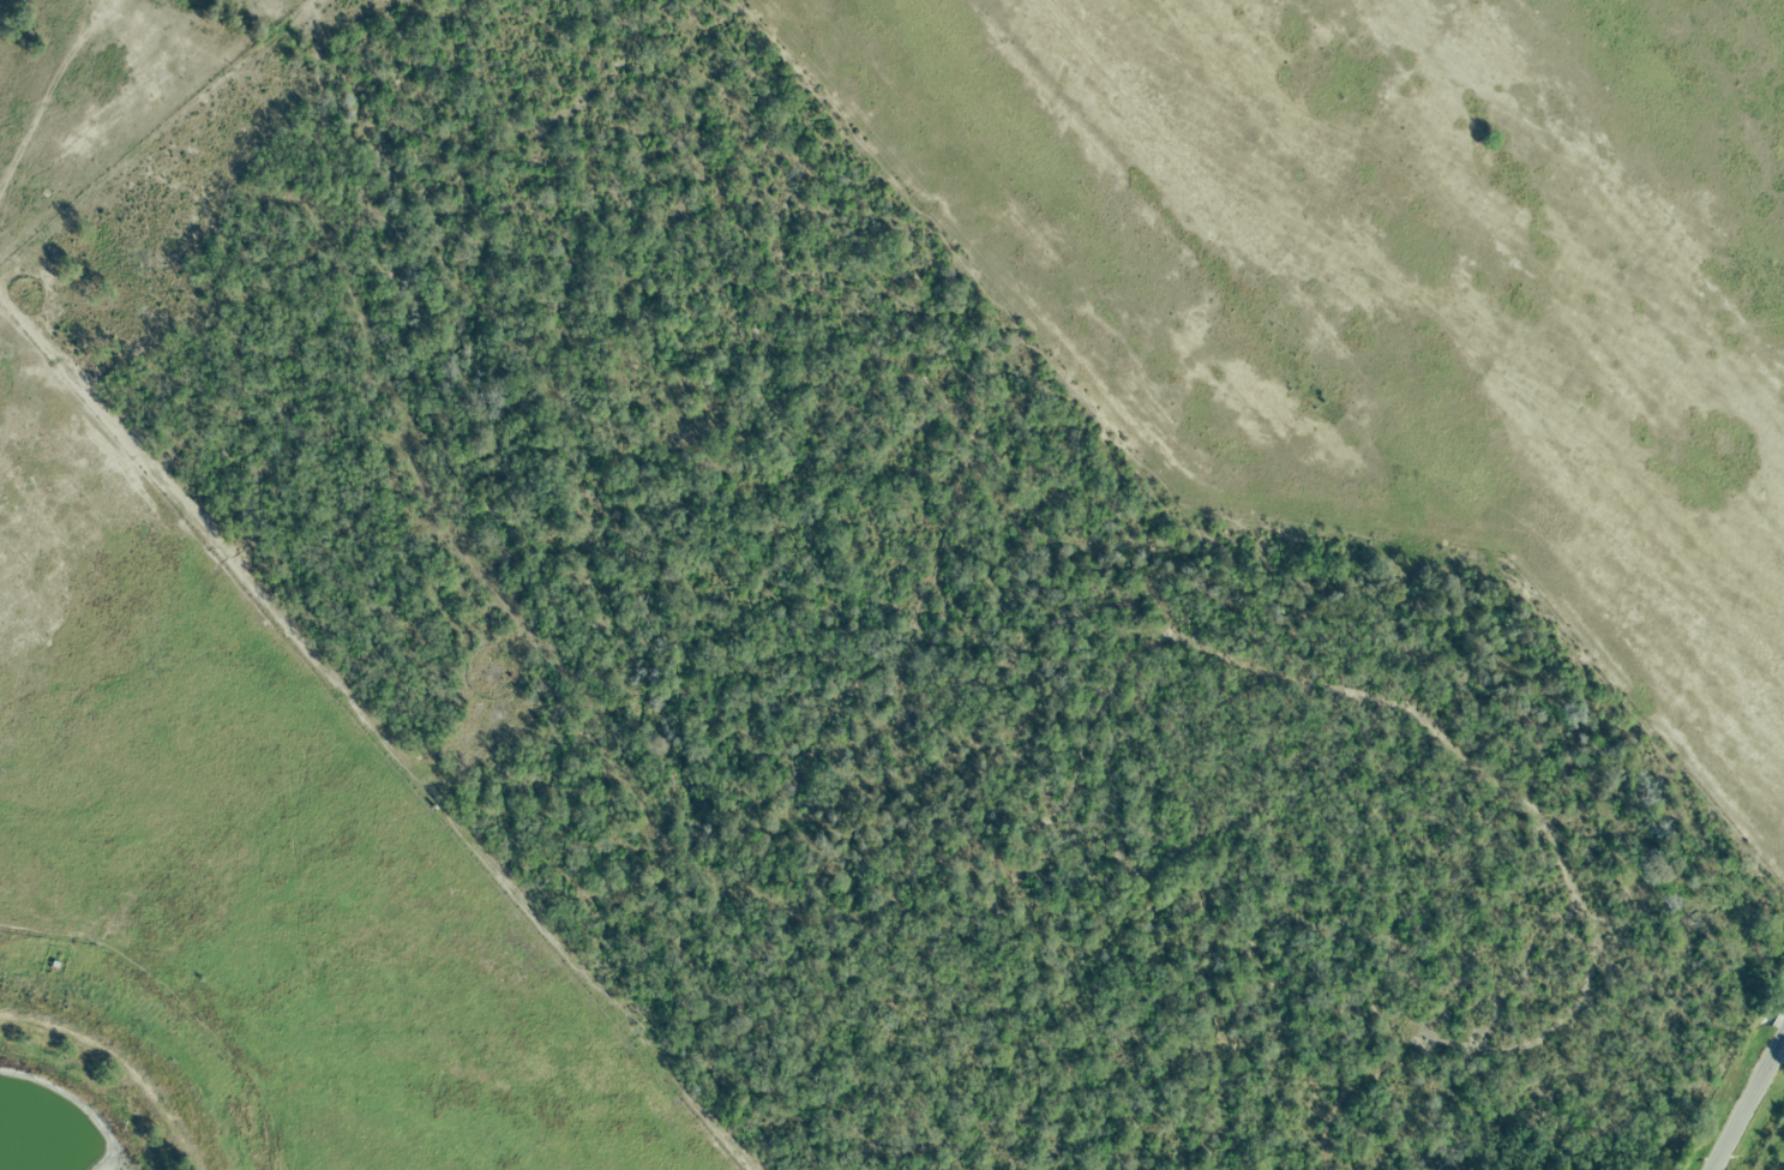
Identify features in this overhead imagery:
road: (1747, 1100)

